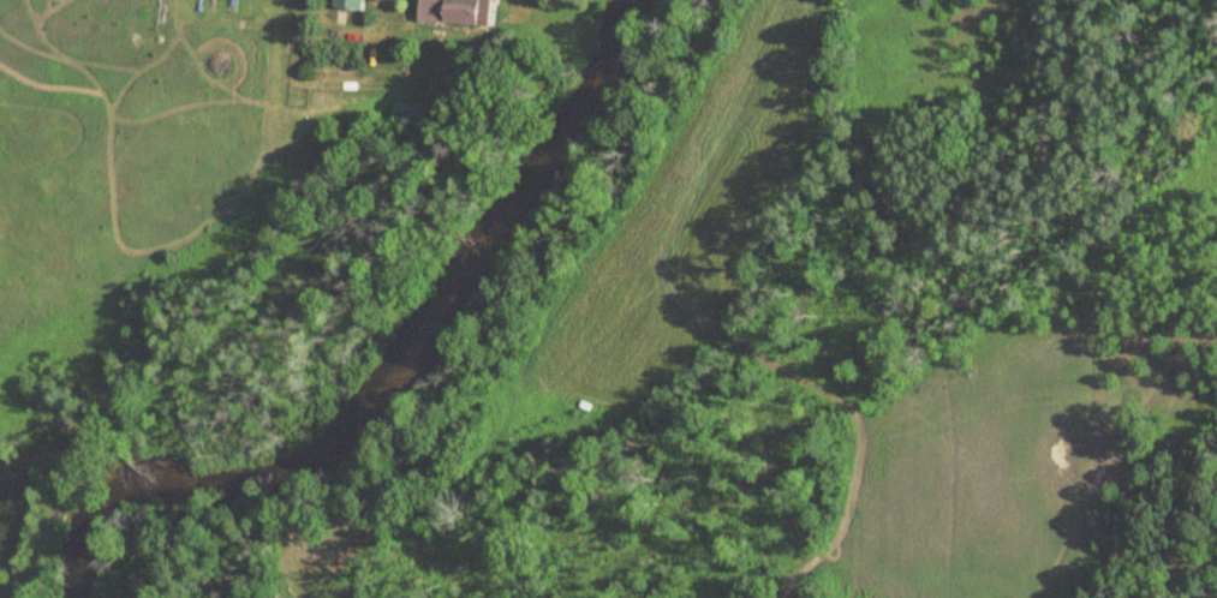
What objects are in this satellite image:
building: (449, 12)
river: (404, 372)

